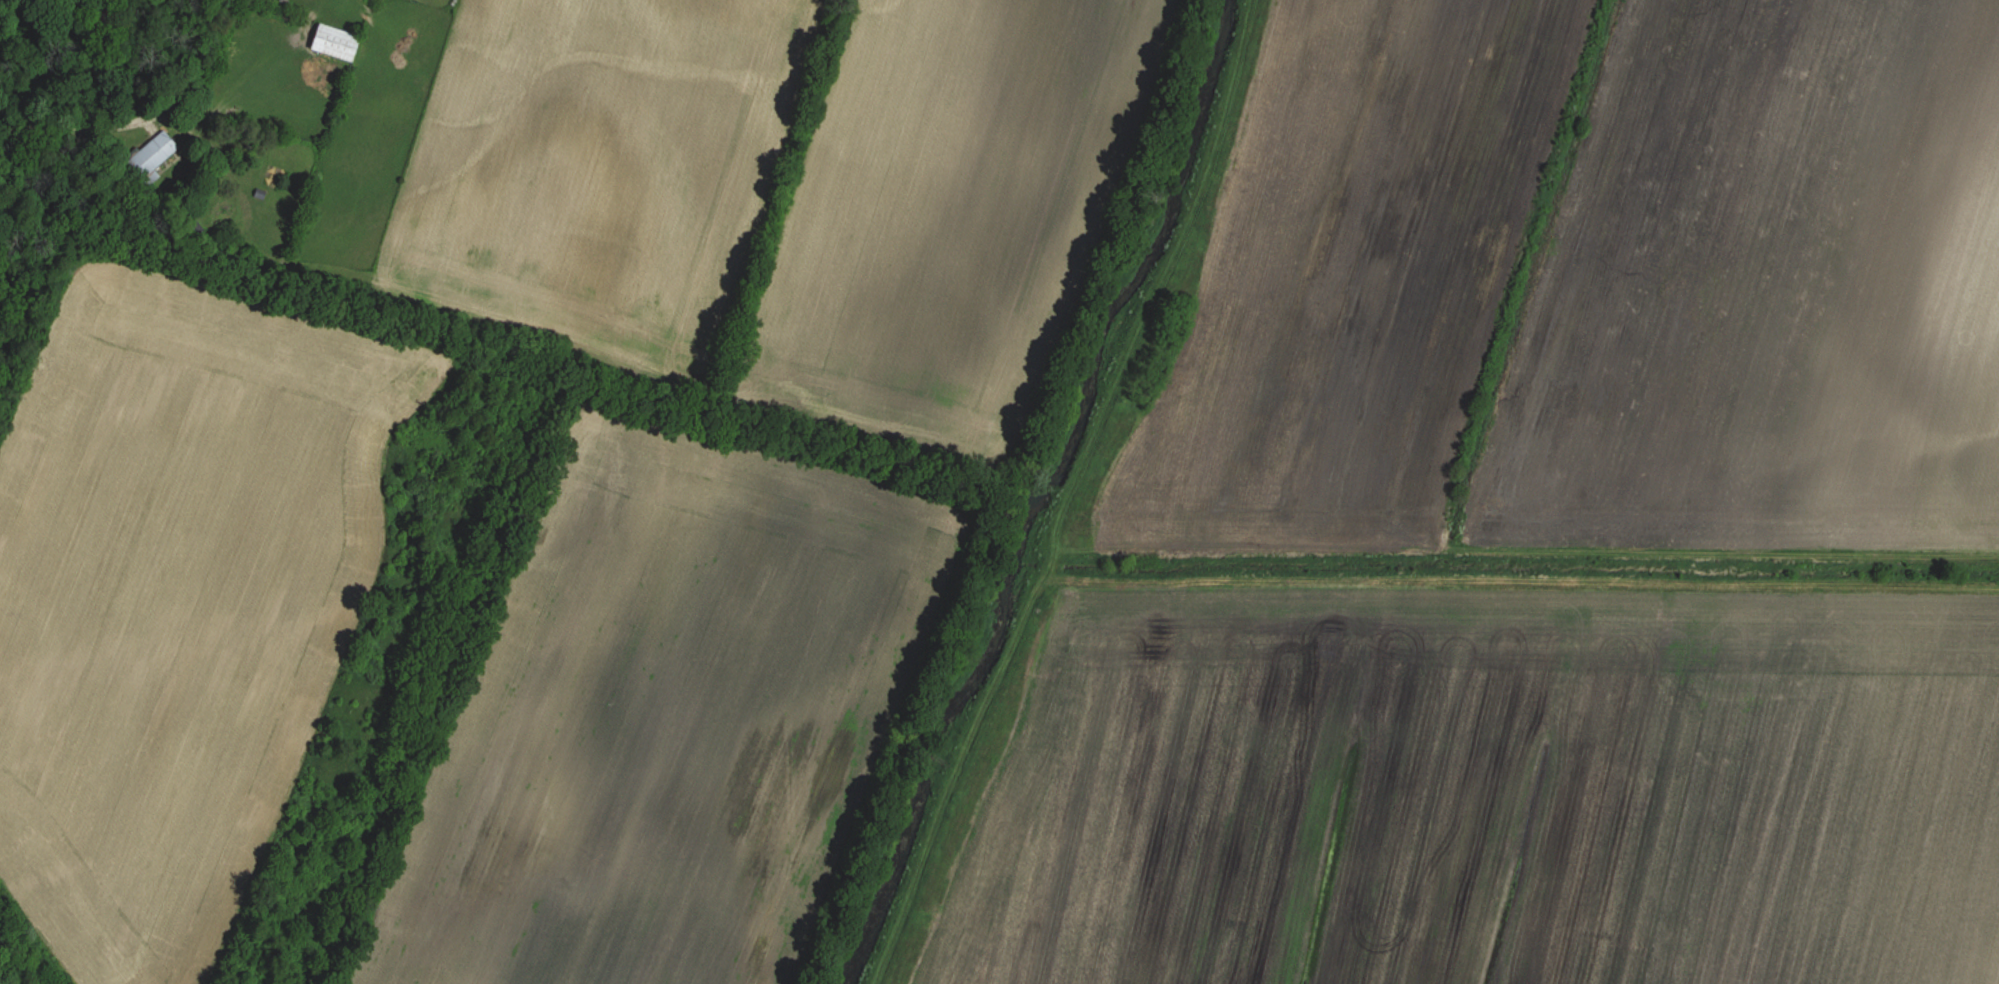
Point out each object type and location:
building: (333, 43)
road: (131, 109)
building: (159, 150)

